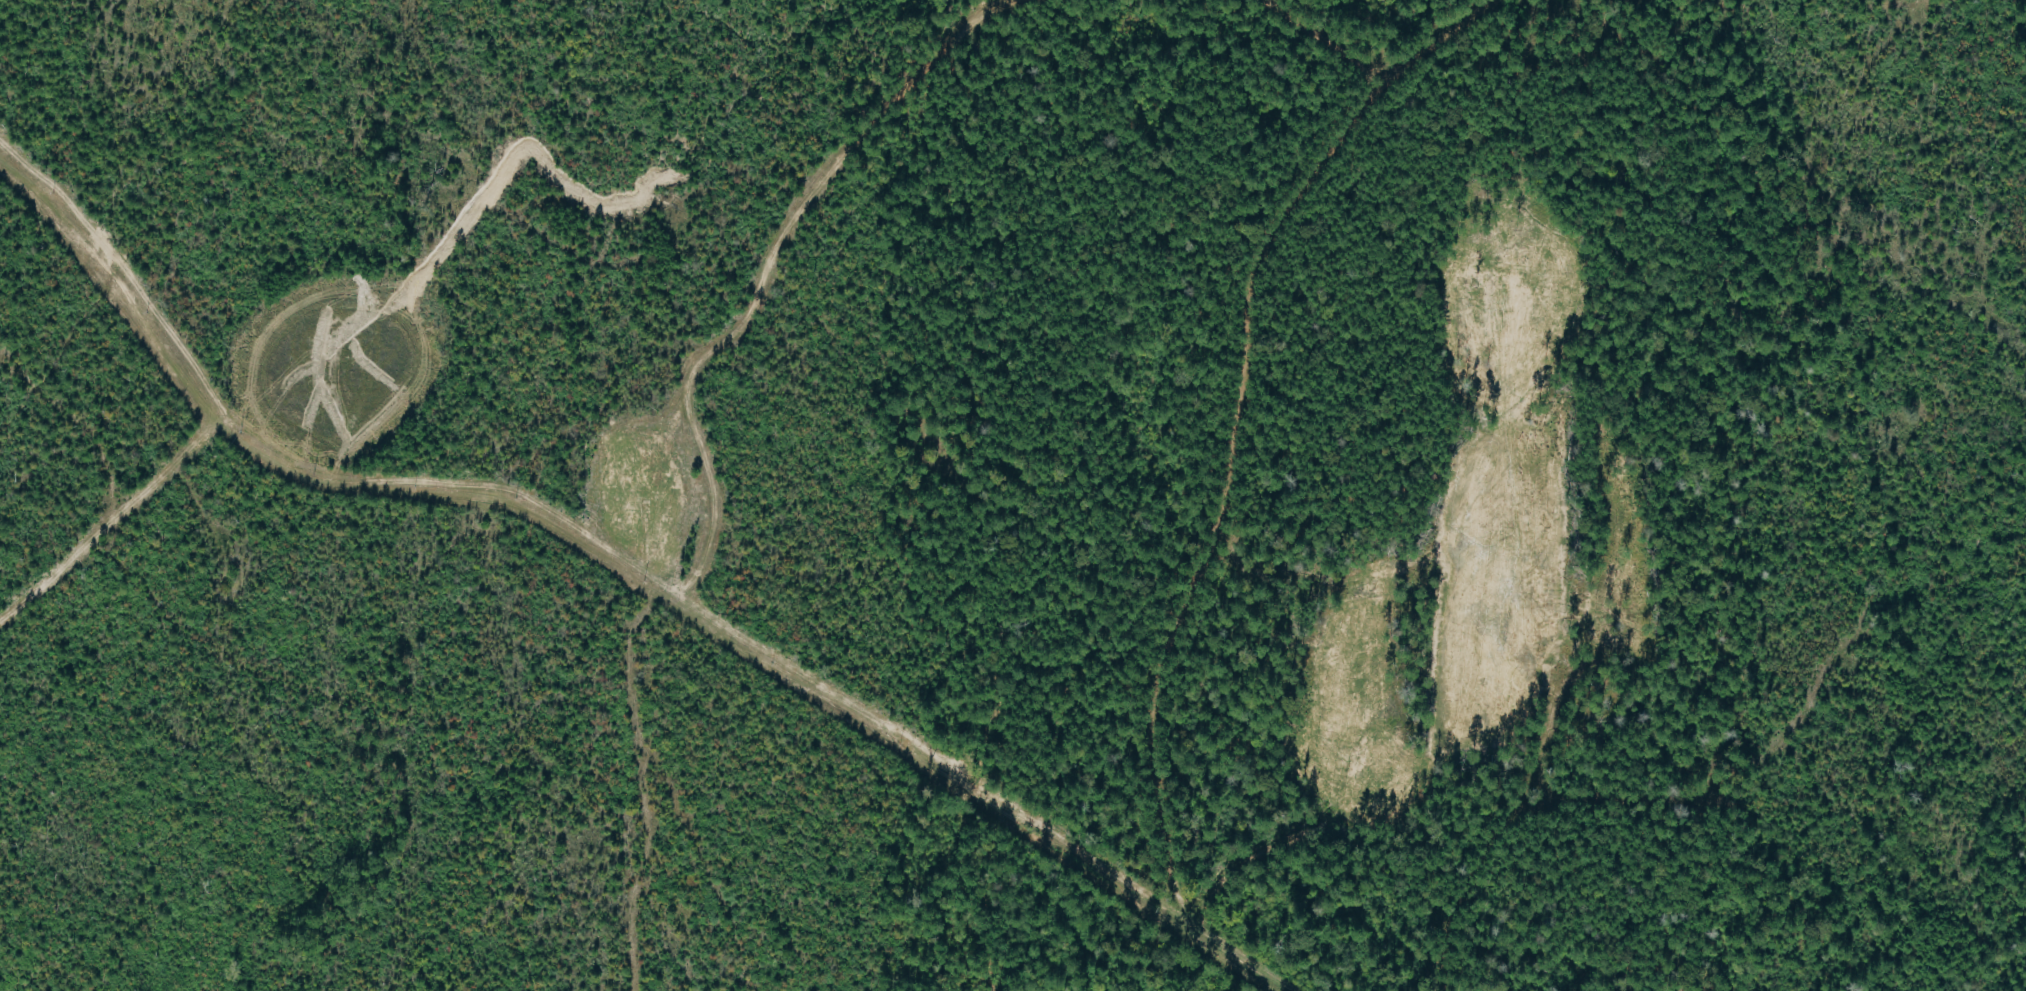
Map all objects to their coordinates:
road: (1144, 448)

